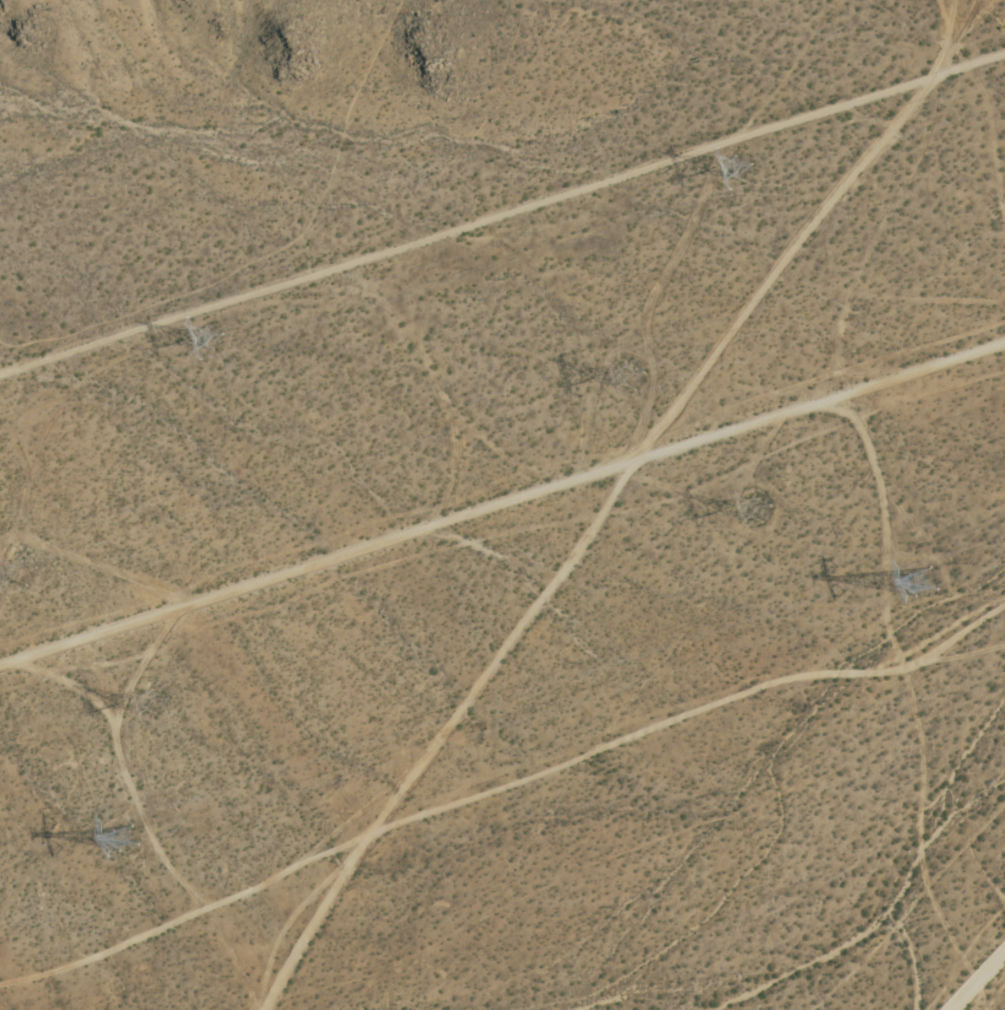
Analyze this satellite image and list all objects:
power tower: (750, 160)
power tower: (219, 339)
power tower: (634, 374)
road: (502, 499)
power tower: (765, 505)
power tower: (30, 563)
power tower: (929, 583)
power tower: (164, 700)
power tower: (130, 841)
road: (982, 986)

